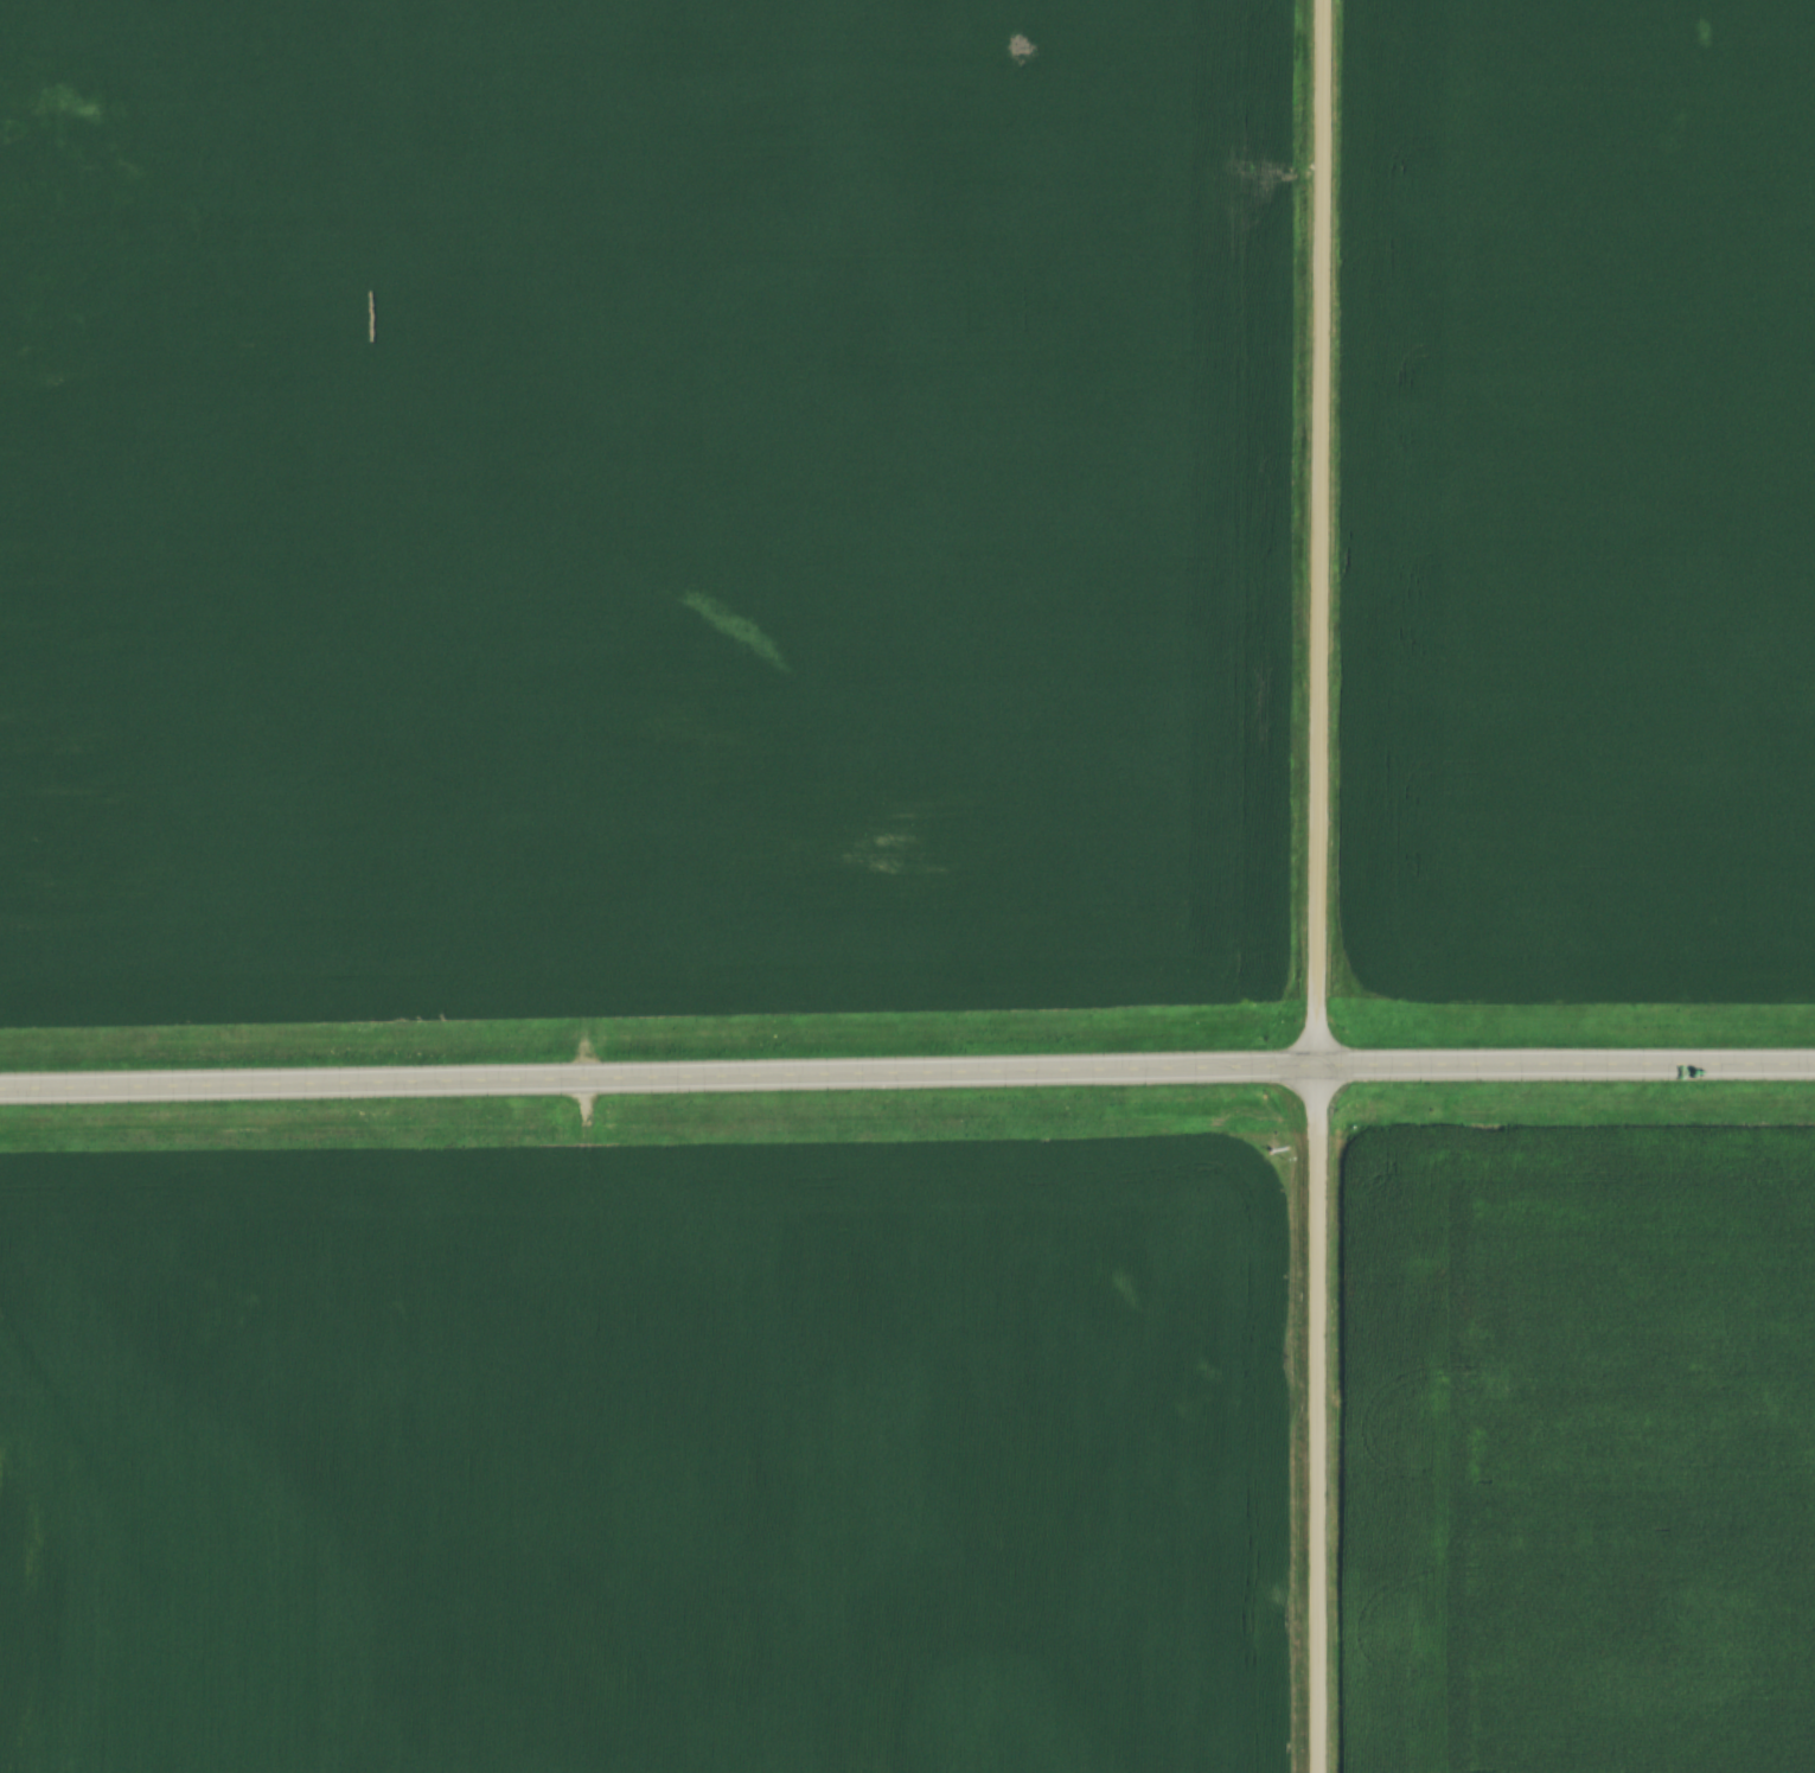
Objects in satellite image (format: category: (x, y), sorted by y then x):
road: (1318, 886)
road: (907, 1073)

